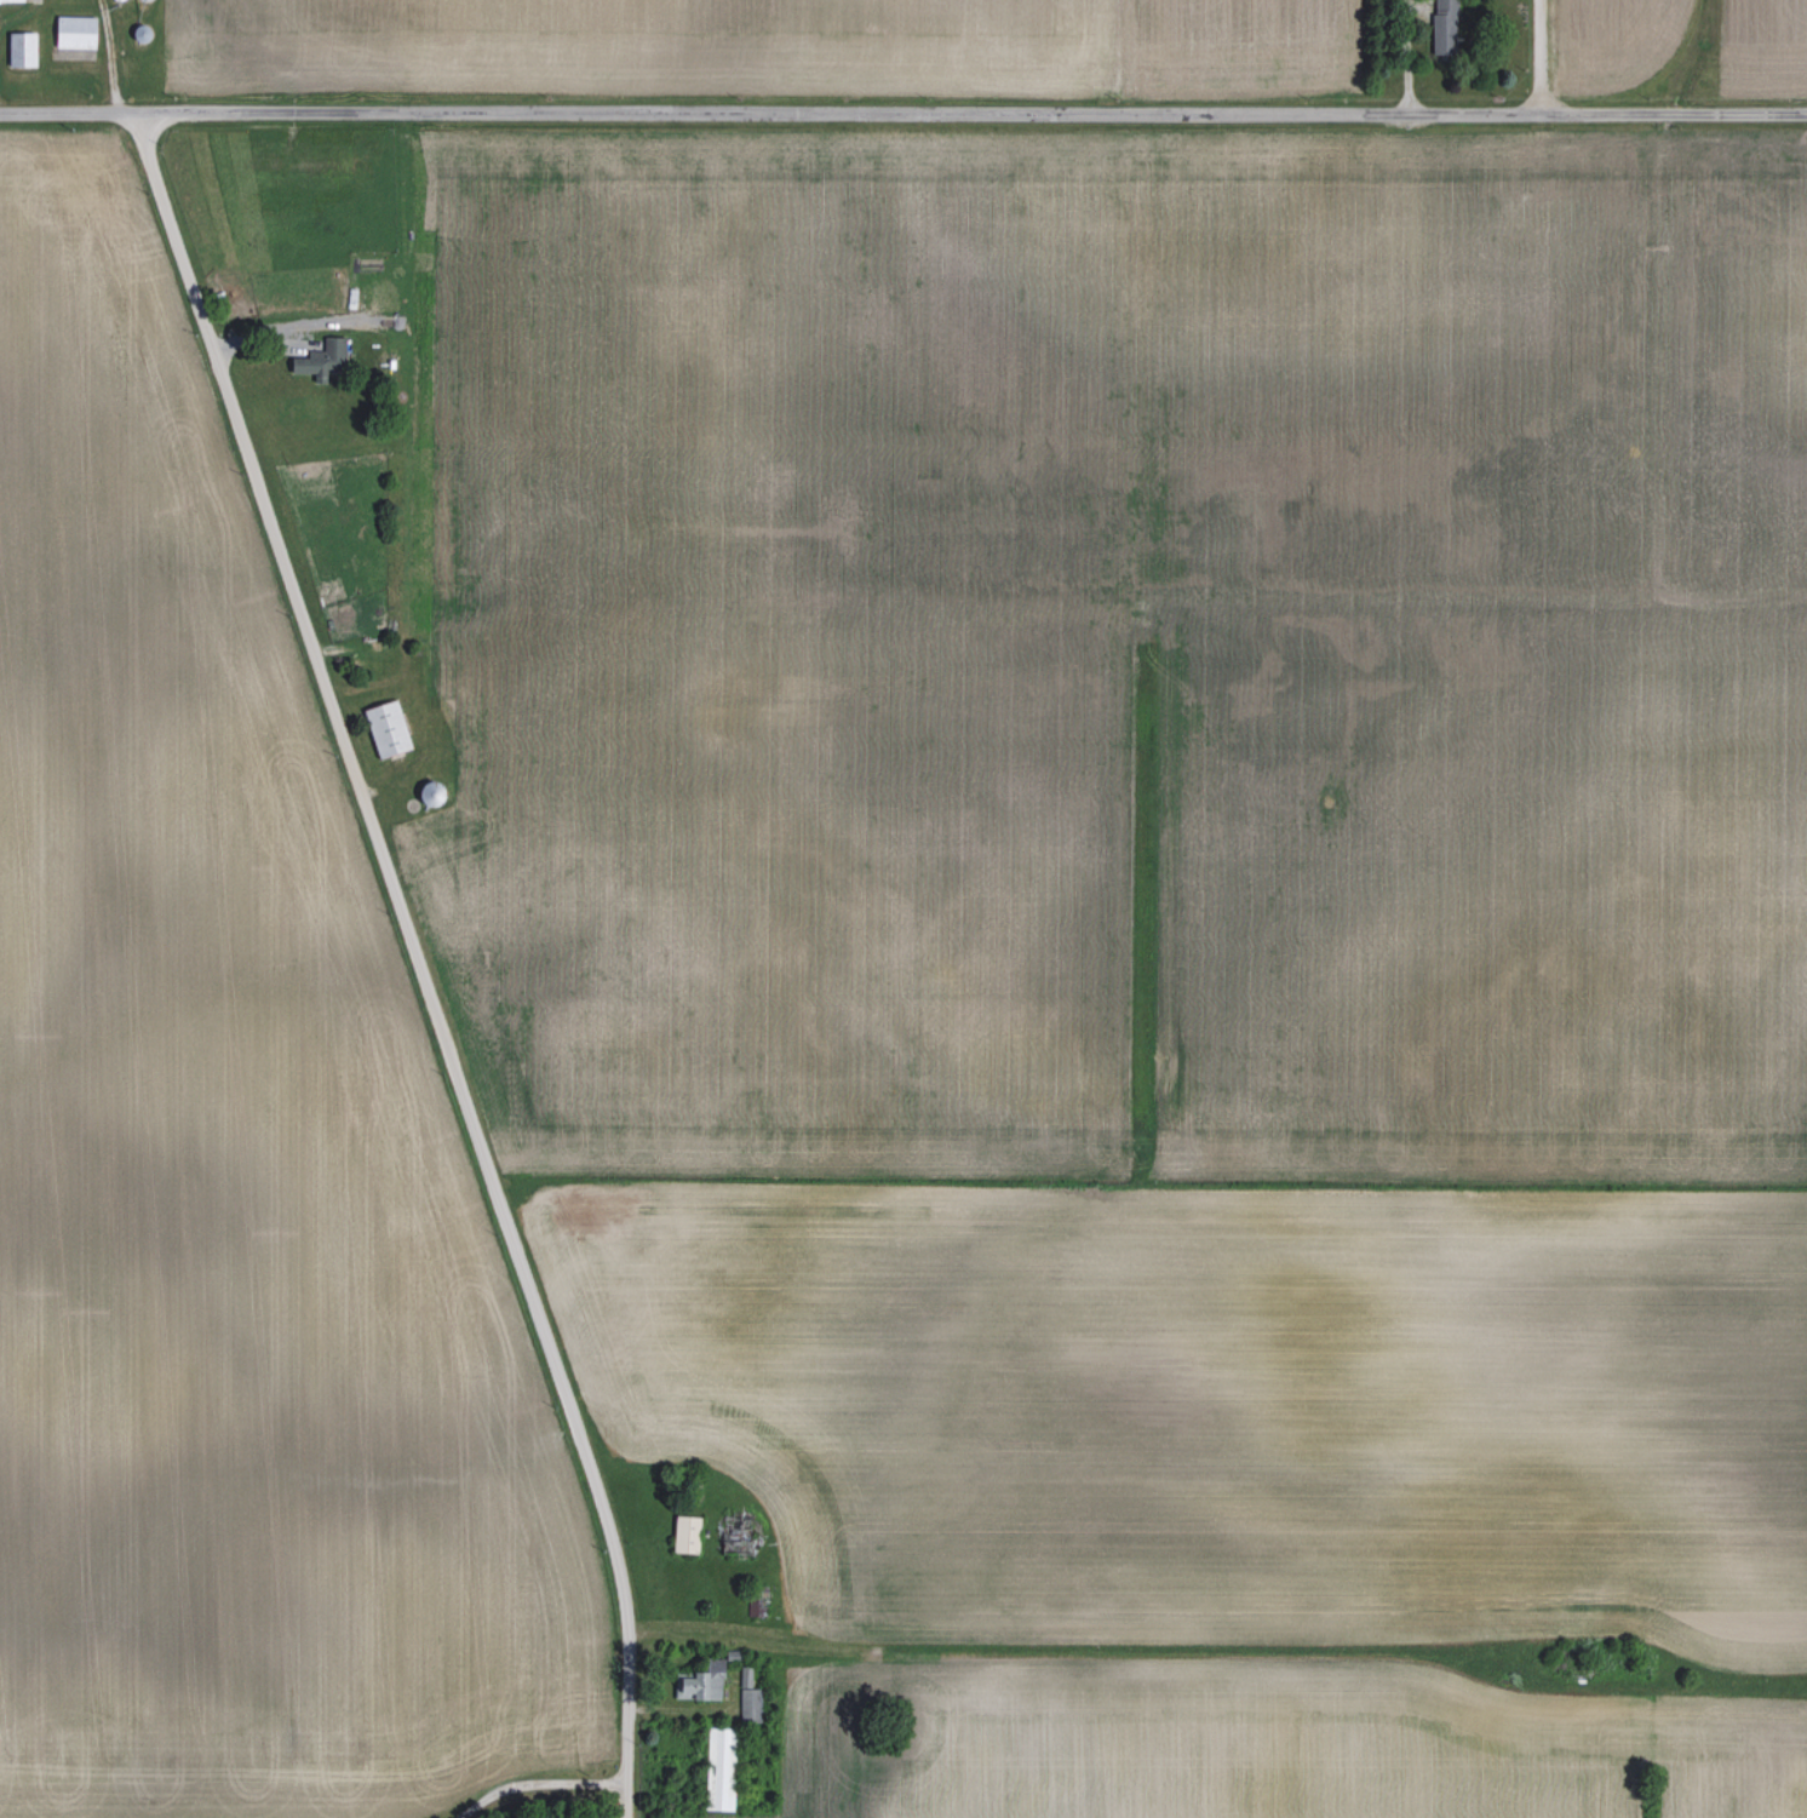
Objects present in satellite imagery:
building: (10, 0)
building: (1444, 25)
building: (71, 31)
building: (18, 48)
road: (1404, 57)
road: (1534, 57)
road: (904, 114)
road: (275, 340)
building: (320, 360)
building: (384, 729)
road: (415, 960)
building: (683, 1532)
building: (700, 1681)
building: (746, 1696)
building: (717, 1767)
road: (546, 1793)

